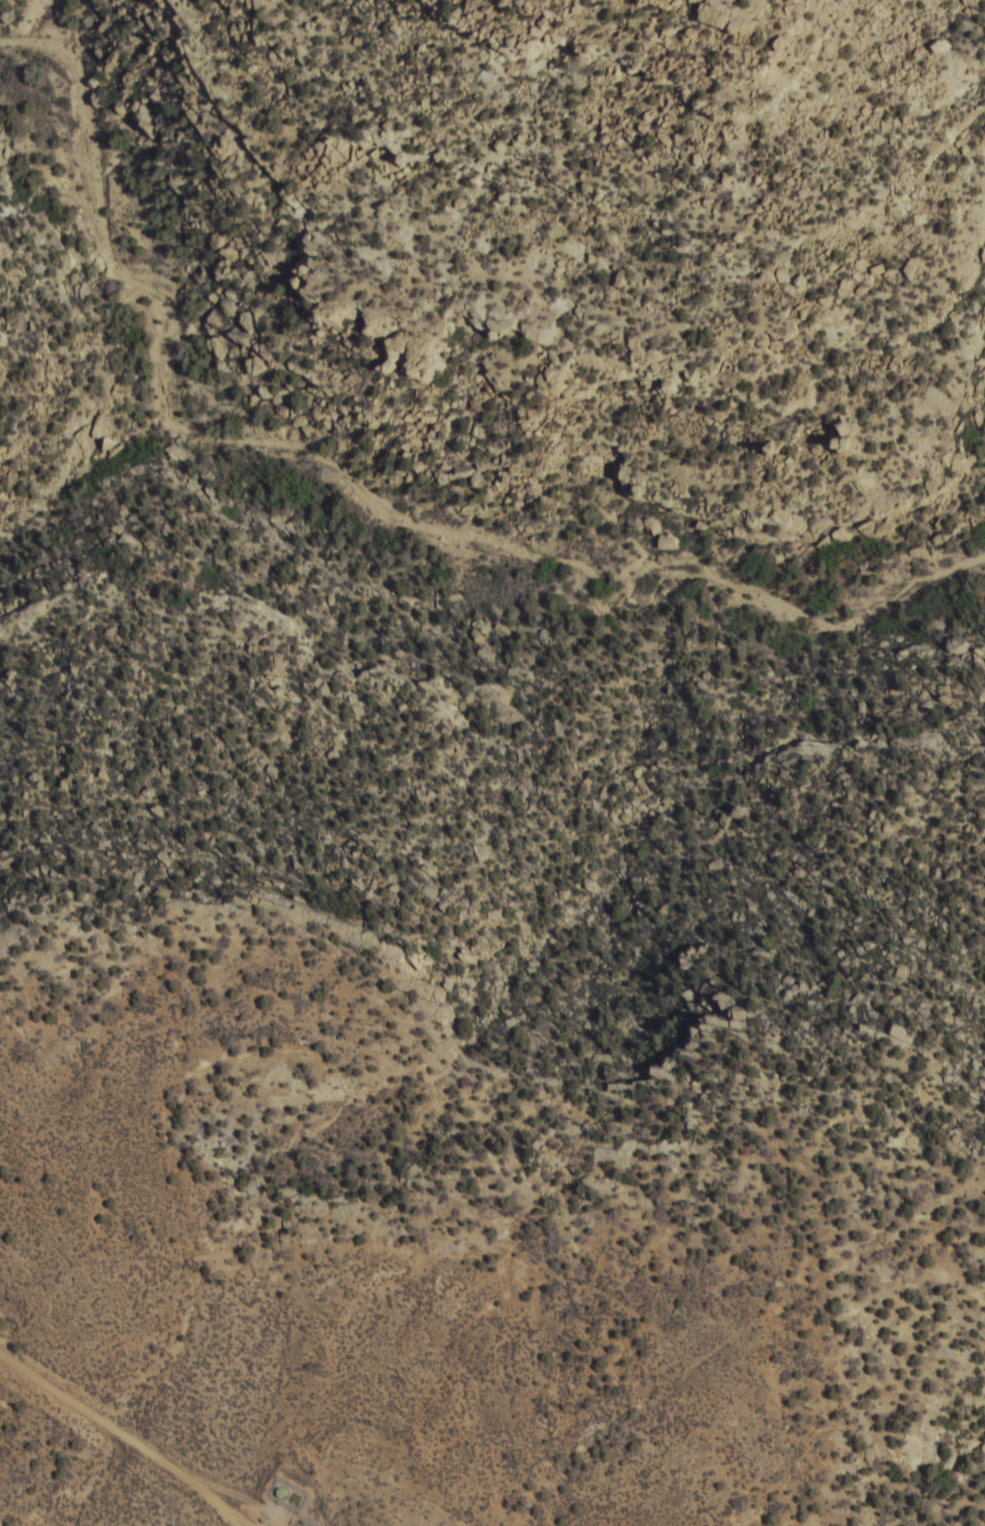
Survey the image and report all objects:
road: (198, 1473)

